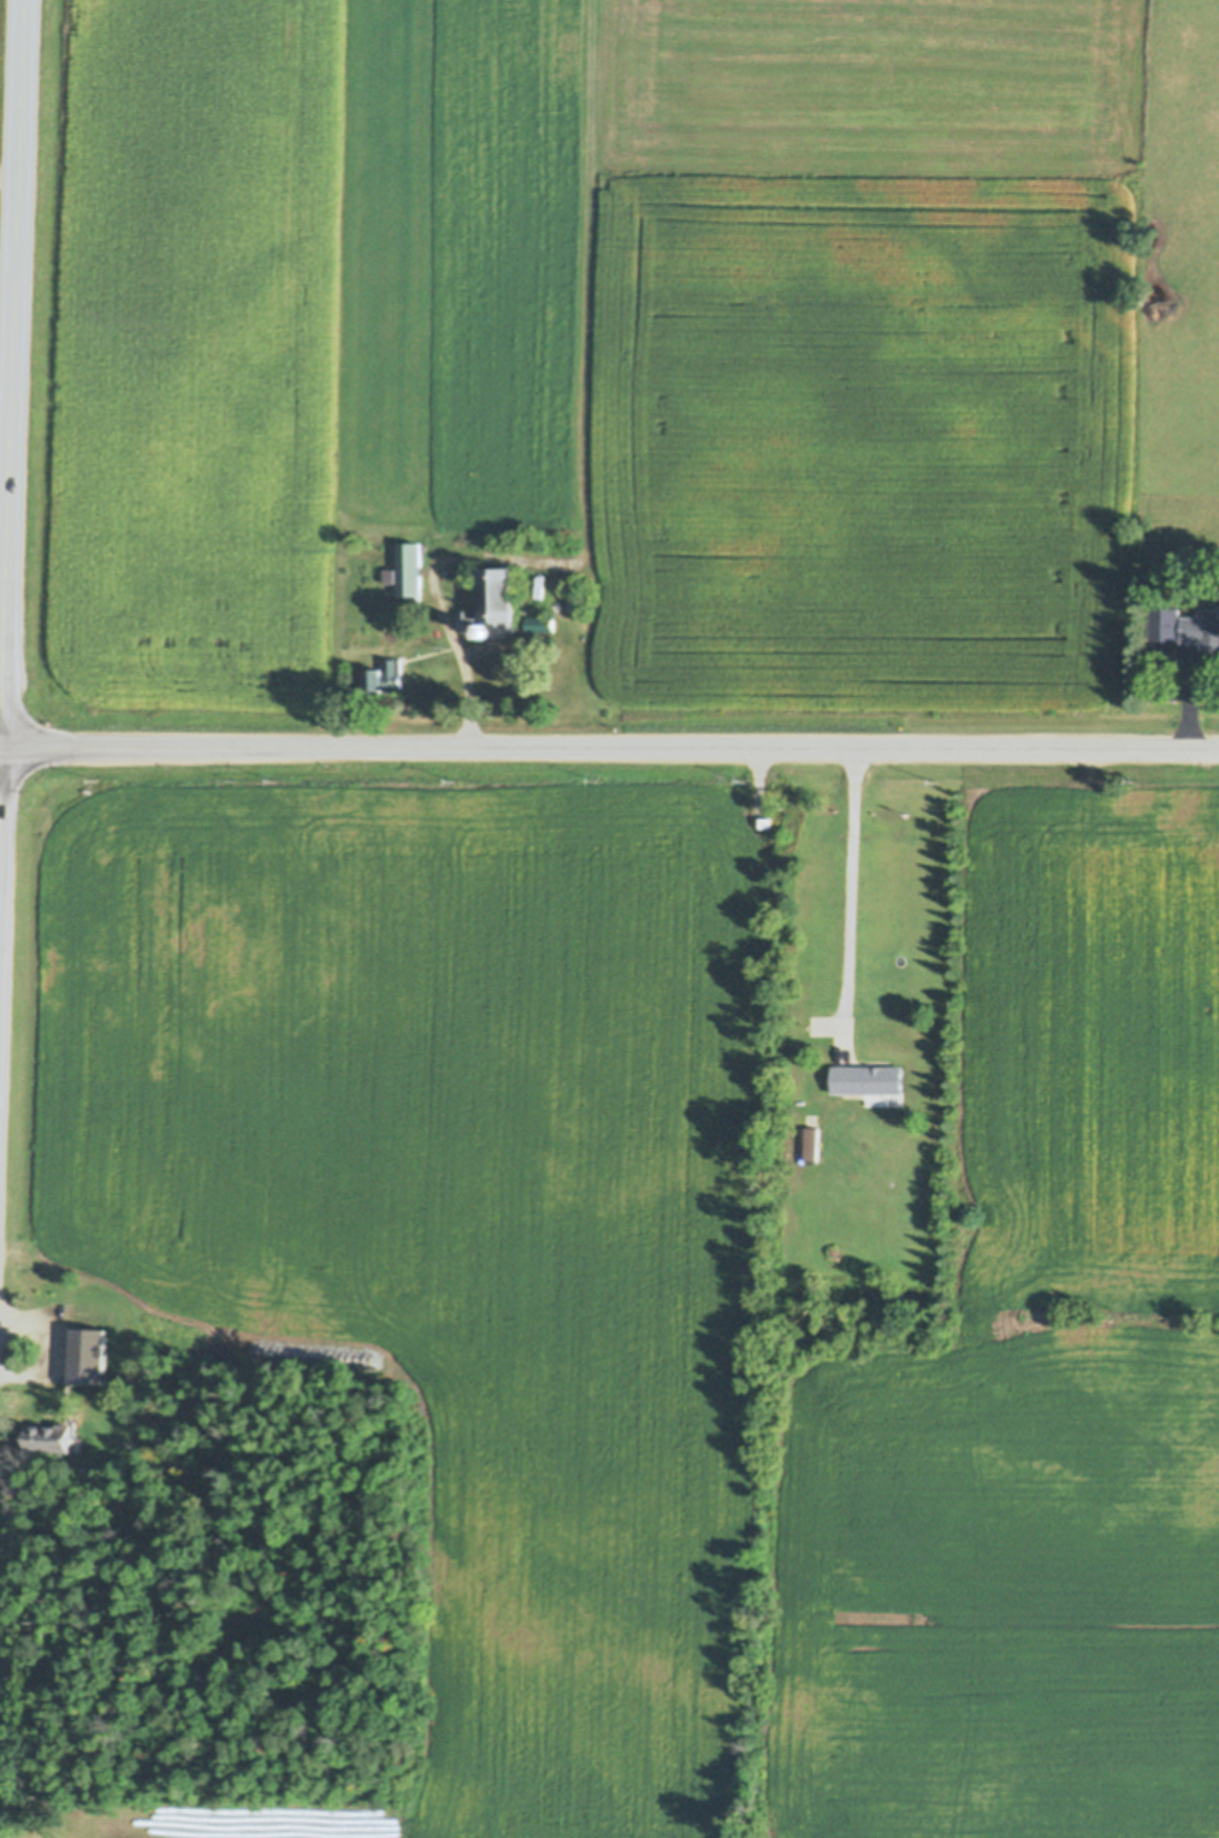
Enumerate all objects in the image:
road: (8, 170)
road: (11, 374)
building: (407, 566)
building: (575, 596)
building: (498, 597)
building: (466, 617)
building: (1165, 620)
building: (540, 621)
building: (1202, 625)
road: (460, 672)
building: (385, 674)
road: (609, 752)
building: (767, 820)
road: (848, 904)
building: (866, 1076)
building: (812, 1141)
crop: (680, 1287)
building: (87, 1320)
building: (93, 1369)
building: (51, 1436)

